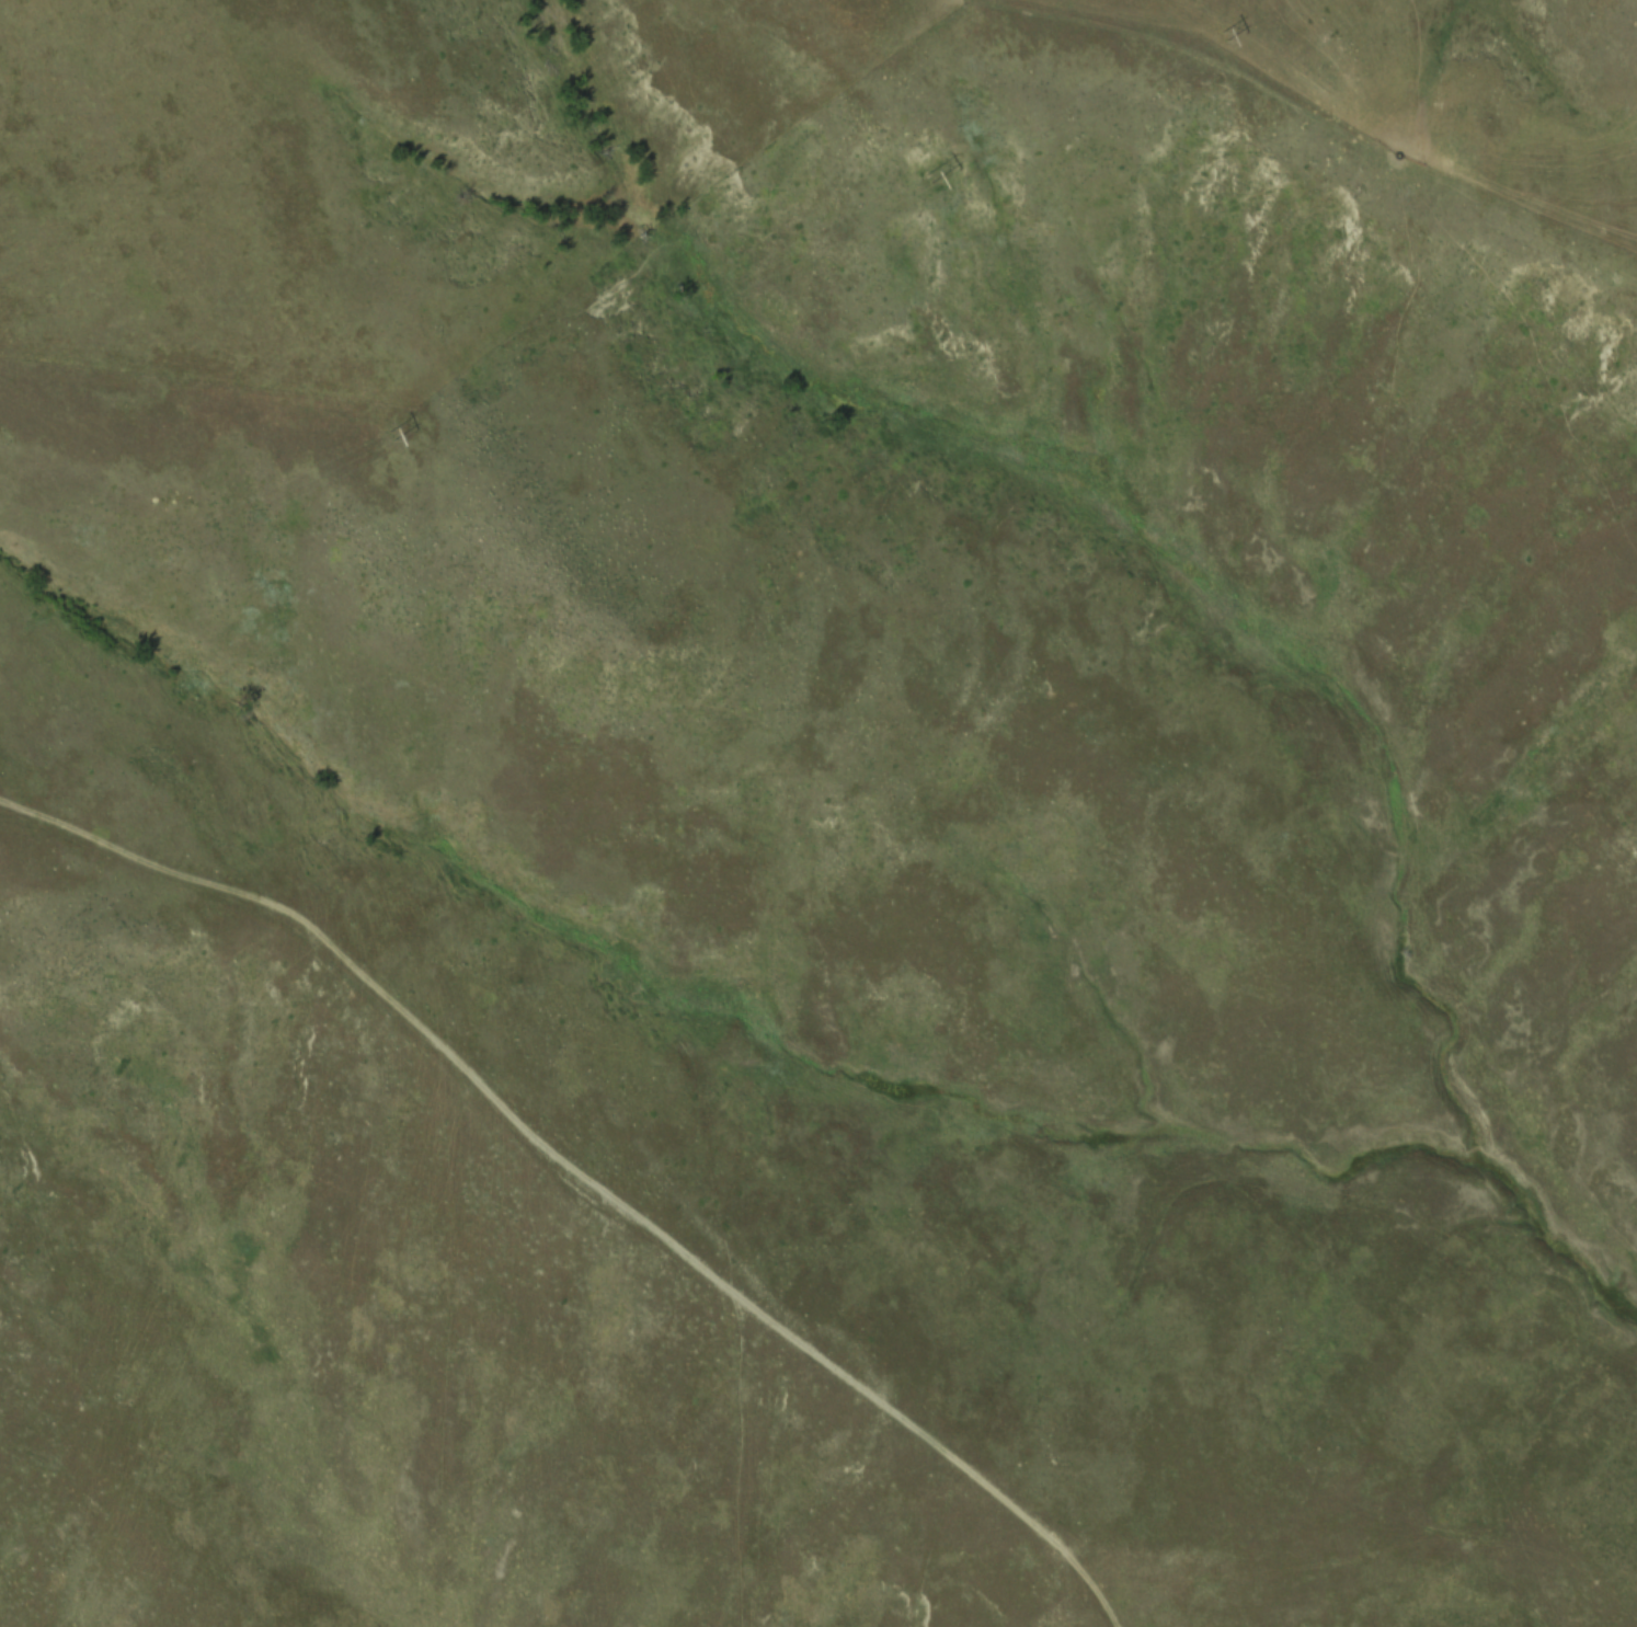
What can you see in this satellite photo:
power tower: (1226, 38)
power tower: (932, 181)
power tower: (393, 437)

